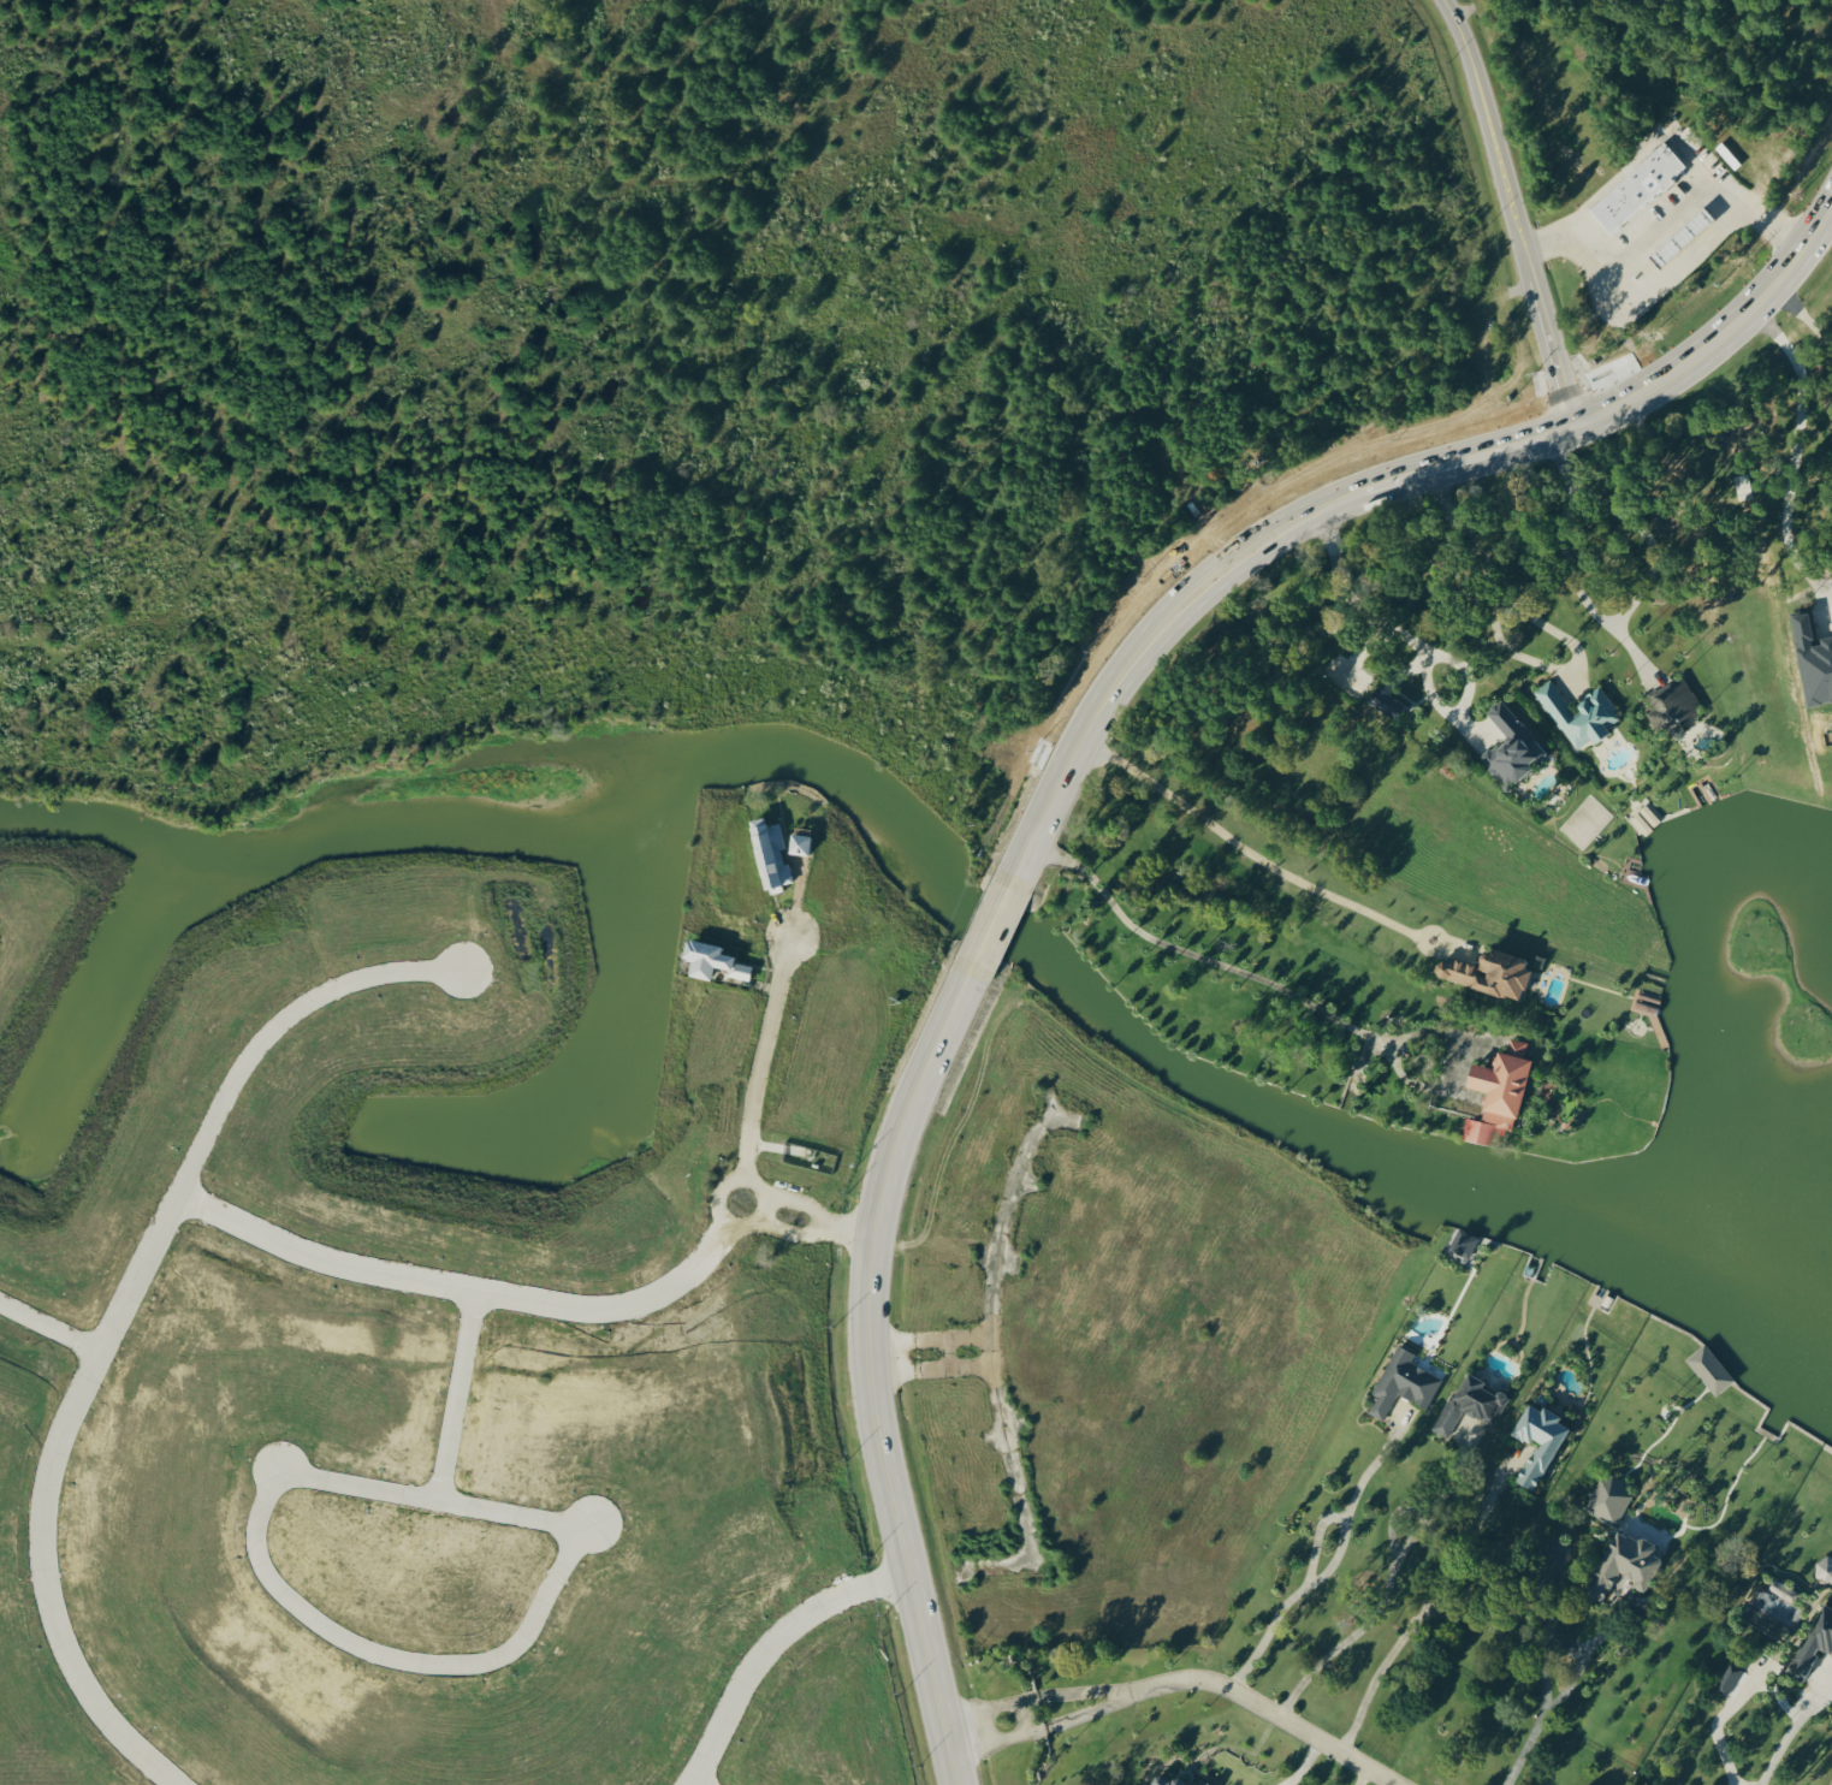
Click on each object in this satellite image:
building: (1636, 185)
road: (1512, 210)
road: (1664, 227)
road: (1680, 260)
road: (1804, 319)
road: (1794, 451)
road: (1644, 542)
road: (1561, 563)
road: (1347, 600)
road: (1553, 634)
building: (1813, 662)
building: (1385, 702)
road: (1457, 706)
building: (1671, 706)
building: (1578, 714)
building: (1510, 747)
road: (1048, 805)
building: (769, 852)
road: (1257, 859)
building: (710, 957)
building: (1487, 973)
road: (1296, 998)
road: (757, 1095)
building: (1498, 1095)
road: (802, 1224)
building: (1708, 1368)
building: (1401, 1382)
building: (1470, 1402)
building: (1537, 1440)
building: (1608, 1498)
building: (1623, 1562)
building: (1824, 1567)
road: (1330, 1575)
road: (1386, 1601)
road: (1425, 1602)
building: (1813, 1641)
road: (1542, 1670)
building: (1726, 1678)
road: (1178, 1680)
road: (1786, 1731)
road: (1302, 1765)
road: (1368, 1779)
building: (1178, 1780)
road: (1830, 1781)

